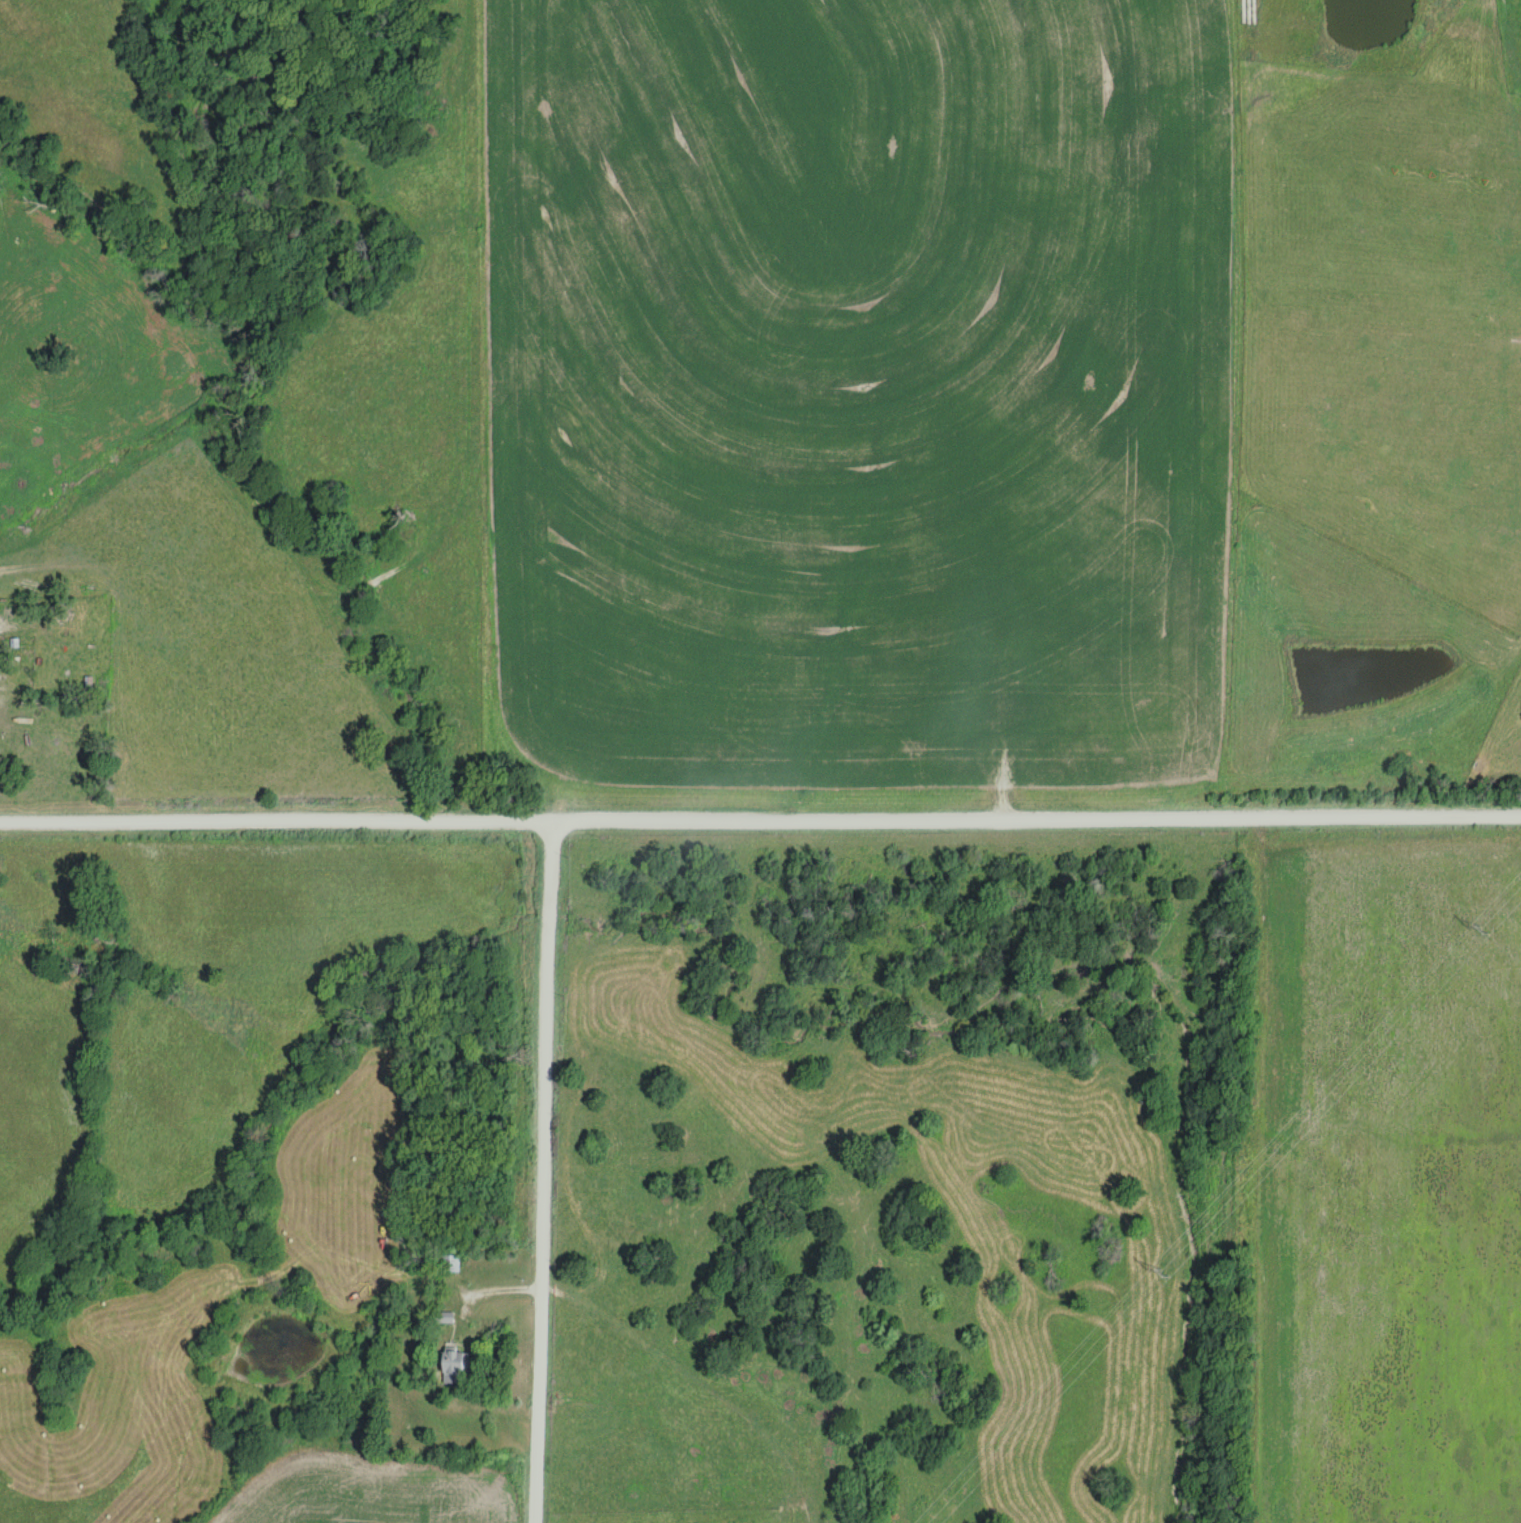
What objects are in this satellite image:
road: (760, 815)
road: (544, 1169)
building: (449, 1262)
building: (453, 1364)

